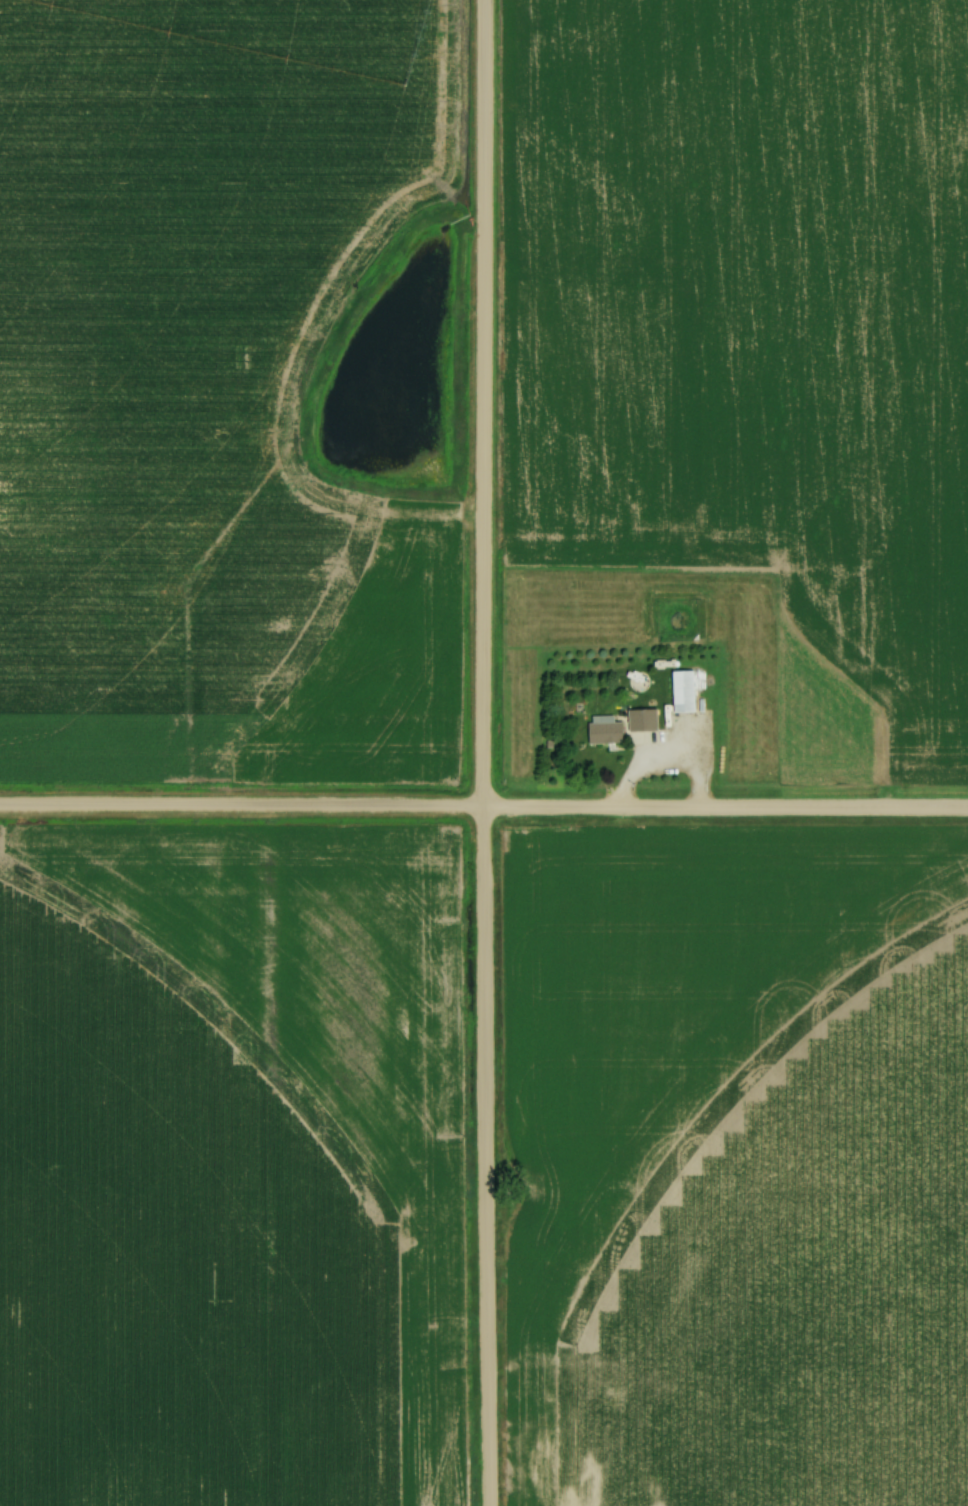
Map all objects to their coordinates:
building: (685, 691)
building: (644, 726)
building: (606, 732)
road: (480, 753)
road: (648, 763)
road: (484, 809)
road: (585, 1375)

